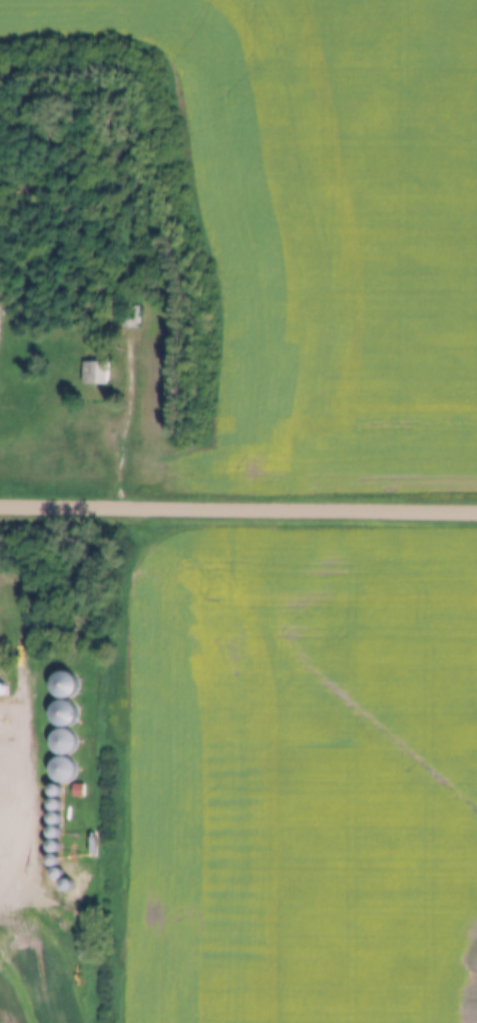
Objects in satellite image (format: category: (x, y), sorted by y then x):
building: (132, 317)
building: (100, 376)
road: (131, 421)
road: (238, 504)
building: (67, 686)
silo: (67, 686)
building: (4, 690)
silo: (4, 690)
building: (66, 714)
silo: (66, 714)
building: (65, 741)
silo: (65, 741)
building: (64, 769)
silo: (64, 769)
building: (58, 793)
silo: (58, 793)
building: (58, 807)
silo: (58, 807)
building: (57, 820)
silo: (57, 820)
building: (58, 836)
silo: (58, 836)
building: (58, 851)
silo: (58, 851)
building: (58, 865)
silo: (58, 865)
building: (57, 878)
silo: (57, 878)
building: (57, 892)
silo: (57, 892)

